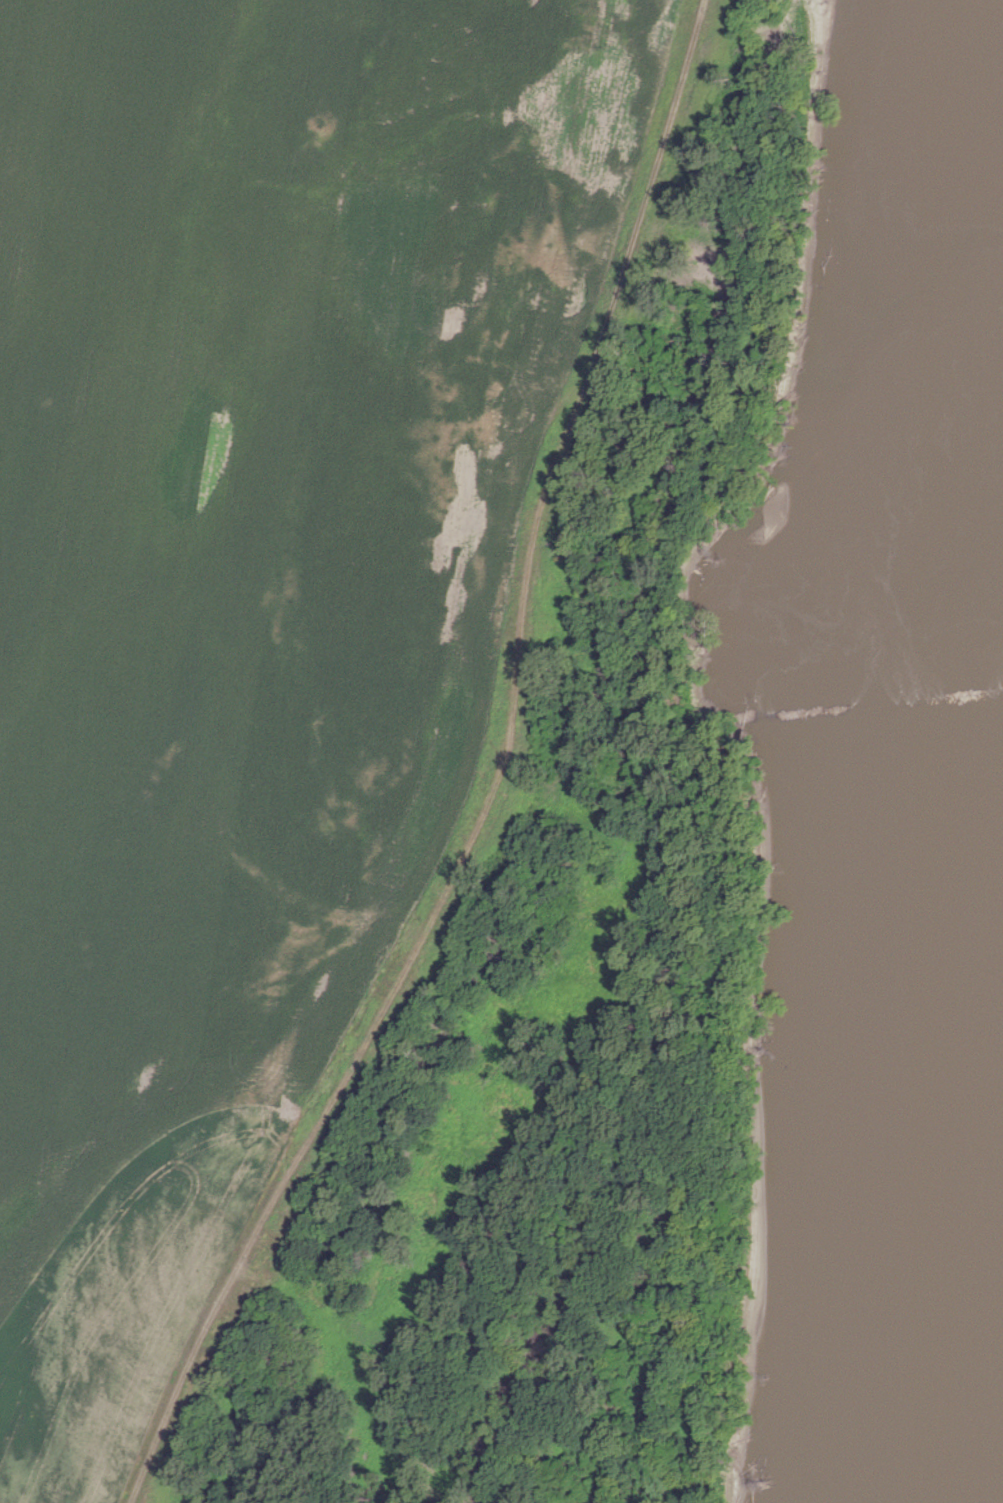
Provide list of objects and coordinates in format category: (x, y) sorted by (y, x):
crop: (249, 588)
road: (500, 781)
road: (541, 792)
road: (508, 1010)

